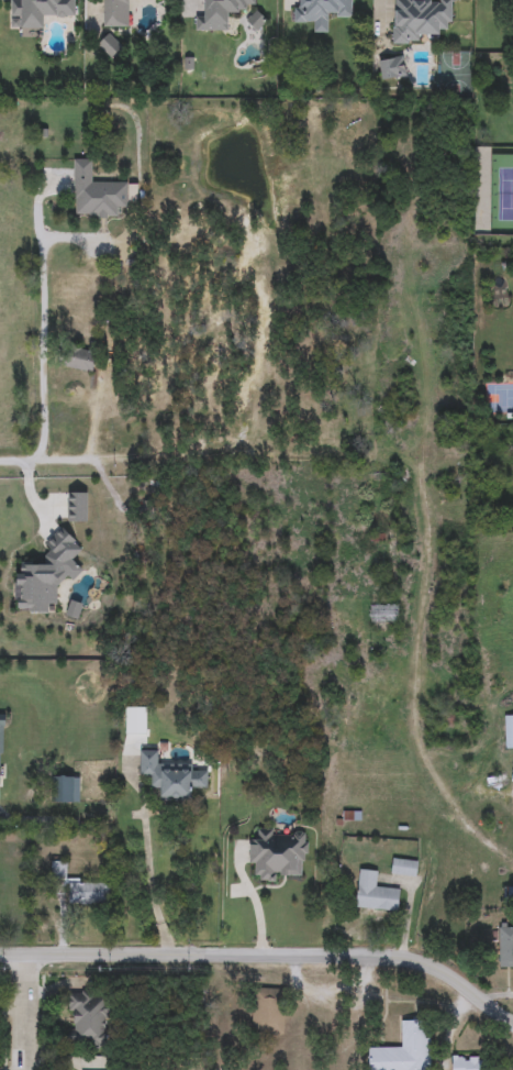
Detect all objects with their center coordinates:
building: (38, 11)
building: (321, 12)
building: (114, 13)
building: (220, 13)
building: (420, 19)
building: (109, 46)
building: (392, 68)
building: (96, 194)
road: (41, 323)
building: (79, 358)
road: (205, 456)
building: (384, 614)
building: (509, 731)
building: (1, 744)
building: (171, 777)
building: (66, 790)
building: (279, 853)
building: (404, 867)
building: (58, 870)
road: (149, 887)
building: (375, 893)
building: (88, 894)
building: (505, 947)
road: (266, 957)
road: (12, 1010)
road: (25, 1012)
building: (268, 1012)
building: (86, 1019)
building: (403, 1049)
building: (467, 1062)

